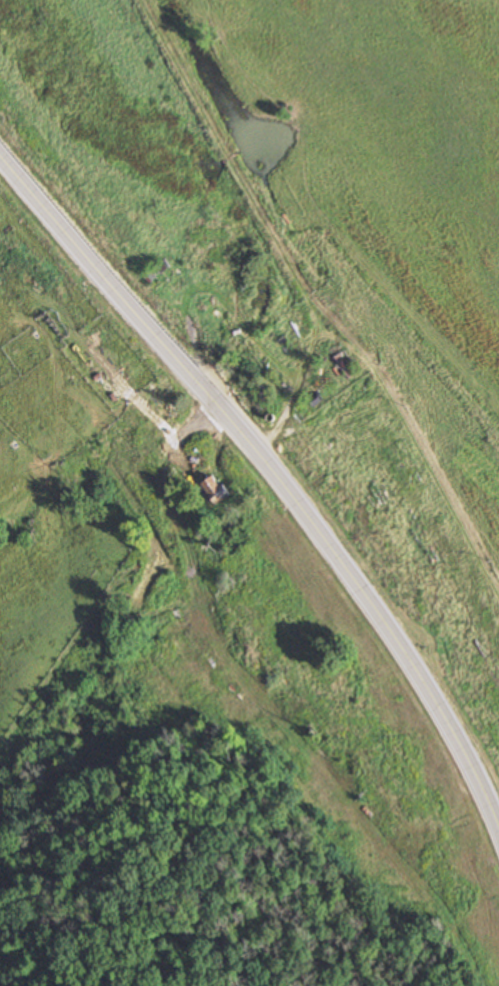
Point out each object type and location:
building: (158, 274)
building: (344, 365)
road: (273, 465)
building: (217, 490)

